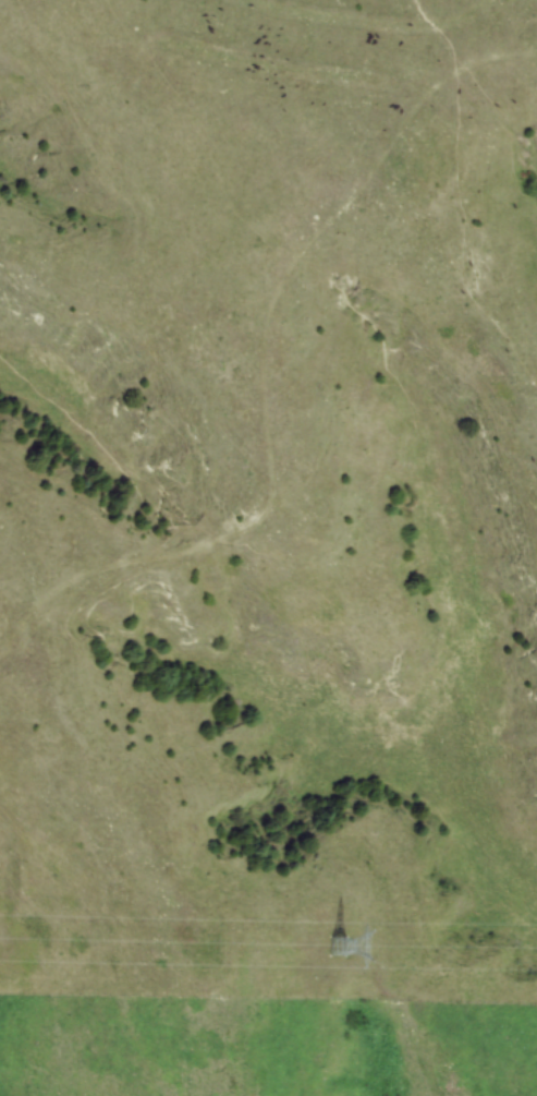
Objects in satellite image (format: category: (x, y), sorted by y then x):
power tower: (338, 948)

